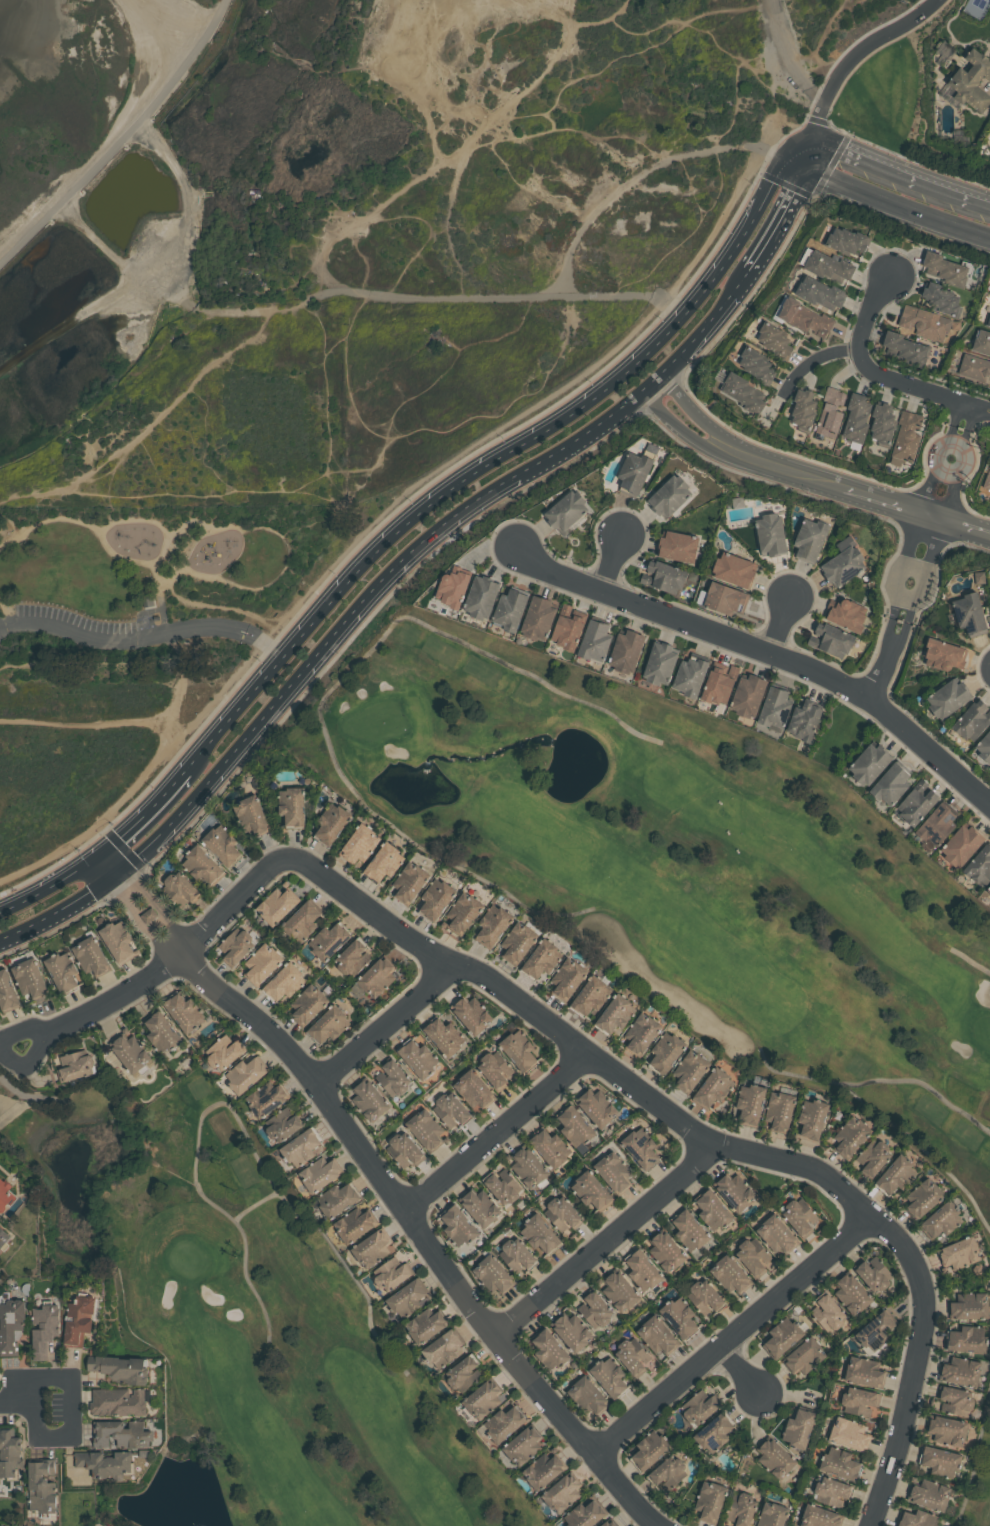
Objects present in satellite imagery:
road: (932, 7)
road: (165, 25)
road: (215, 25)
road: (820, 42)
road: (850, 63)
road: (174, 83)
building: (971, 83)
traffic signals: (813, 143)
road: (858, 156)
road: (946, 190)
road: (73, 192)
road: (883, 201)
road: (783, 207)
building: (846, 240)
building: (829, 265)
building: (949, 269)
building: (821, 292)
building: (942, 299)
road: (870, 309)
building: (805, 317)
building: (988, 318)
building: (925, 322)
building: (776, 340)
building: (982, 341)
building: (905, 347)
road: (816, 358)
building: (757, 365)
building: (974, 366)
road: (919, 387)
building: (743, 392)
building: (804, 409)
building: (830, 410)
road: (955, 416)
building: (857, 418)
road: (969, 421)
building: (883, 422)
building: (906, 437)
road: (947, 439)
road: (964, 444)
road: (500, 454)
road: (788, 466)
road: (954, 470)
building: (635, 471)
building: (987, 480)
road: (929, 487)
road: (953, 493)
building: (670, 494)
building: (567, 510)
road: (968, 524)
building: (772, 535)
building: (811, 538)
building: (679, 546)
road: (411, 550)
road: (613, 560)
building: (843, 565)
road: (914, 568)
building: (735, 569)
road: (926, 569)
building: (665, 576)
park: (169, 577)
road: (900, 580)
building: (453, 587)
building: (482, 596)
road: (906, 596)
building: (725, 597)
building: (510, 609)
building: (847, 613)
building: (970, 613)
building: (539, 618)
road: (781, 618)
building: (568, 628)
road: (143, 637)
road: (900, 637)
building: (595, 639)
building: (833, 640)
road: (766, 649)
building: (627, 650)
building: (945, 654)
building: (661, 663)
road: (879, 672)
building: (690, 676)
building: (720, 684)
building: (748, 695)
building: (949, 697)
building: (776, 706)
building: (805, 720)
building: (973, 720)
road: (329, 742)
building: (985, 746)
building: (870, 763)
building: (891, 783)
building: (917, 802)
building: (292, 804)
building: (253, 814)
road: (141, 815)
building: (332, 822)
building: (936, 826)
building: (360, 843)
building: (222, 844)
building: (962, 844)
building: (384, 861)
building: (979, 864)
road: (103, 865)
building: (203, 865)
park: (677, 868)
building: (410, 881)
road: (48, 884)
building: (180, 888)
building: (988, 888)
building: (988, 891)
building: (437, 897)
building: (277, 904)
road: (56, 909)
building: (464, 911)
building: (149, 915)
building: (302, 921)
building: (493, 924)
building: (330, 940)
building: (119, 941)
building: (518, 941)
building: (236, 946)
building: (92, 955)
building: (352, 957)
building: (543, 958)
building: (262, 963)
building: (63, 971)
building: (377, 975)
building: (30, 977)
building: (569, 978)
building: (285, 981)
building: (7, 992)
building: (591, 995)
building: (308, 1004)
building: (185, 1012)
building: (473, 1012)
building: (616, 1013)
road: (389, 1021)
building: (329, 1023)
building: (162, 1031)
building: (642, 1033)
building: (445, 1035)
road: (576, 1039)
building: (518, 1049)
building: (131, 1052)
building: (224, 1052)
building: (665, 1052)
building: (419, 1057)
building: (76, 1064)
building: (495, 1069)
building: (689, 1070)
building: (246, 1074)
building: (393, 1077)
building: (711, 1088)
building: (473, 1089)
building: (267, 1098)
building: (369, 1099)
building: (749, 1103)
building: (596, 1107)
building: (450, 1109)
building: (779, 1110)
building: (812, 1118)
building: (284, 1123)
building: (575, 1126)
road: (498, 1128)
building: (427, 1129)
building: (850, 1136)
building: (301, 1146)
building: (405, 1148)
building: (549, 1148)
building: (640, 1148)
building: (872, 1157)
building: (527, 1167)
building: (320, 1172)
building: (613, 1172)
building: (896, 1173)
building: (0, 1175)
building: (503, 1187)
building: (591, 1190)
building: (733, 1191)
road: (396, 1192)
building: (5, 1193)
building: (921, 1198)
building: (337, 1199)
building: (479, 1207)
building: (712, 1211)
building: (561, 1214)
building: (798, 1216)
building: (940, 1220)
building: (354, 1224)
building: (459, 1225)
building: (689, 1231)
building: (539, 1234)
building: (776, 1234)
building: (4, 1237)
road: (606, 1238)
building: (373, 1248)
building: (665, 1251)
building: (958, 1253)
building: (753, 1255)
building: (516, 1256)
building: (643, 1271)
building: (392, 1272)
building: (730, 1274)
building: (874, 1274)
building: (493, 1275)
building: (618, 1291)
building: (851, 1295)
building: (409, 1297)
building: (704, 1297)
building: (968, 1307)
building: (594, 1309)
building: (826, 1312)
building: (678, 1317)
building: (79, 1318)
building: (426, 1323)
building: (11, 1325)
park: (245, 1326)
building: (45, 1328)
road: (731, 1330)
building: (874, 1331)
building: (571, 1332)
building: (656, 1336)
building: (782, 1337)
building: (966, 1339)
building: (443, 1347)
building: (550, 1352)
building: (632, 1356)
building: (804, 1357)
road: (742, 1367)
building: (122, 1368)
building: (960, 1371)
building: (864, 1372)
building: (462, 1374)
road: (43, 1377)
building: (609, 1377)
building: (587, 1397)
building: (481, 1400)
building: (954, 1400)
building: (118, 1401)
building: (859, 1401)
building: (699, 1408)
building: (504, 1423)
building: (798, 1428)
building: (947, 1431)
building: (121, 1433)
building: (713, 1433)
building: (849, 1433)
road: (45, 1435)
building: (522, 1445)
building: (648, 1450)
building: (10, 1451)
building: (774, 1457)
building: (939, 1461)
building: (107, 1462)
building: (838, 1463)
building: (542, 1469)
building: (667, 1472)
park: (978, 1473)
building: (42, 1484)
building: (561, 1492)
building: (831, 1492)
building: (928, 1494)
building: (709, 1502)
building: (740, 1509)
building: (584, 1514)
building: (772, 1514)
building: (818, 1517)
building: (916, 1519)
building: (609, 1523)

